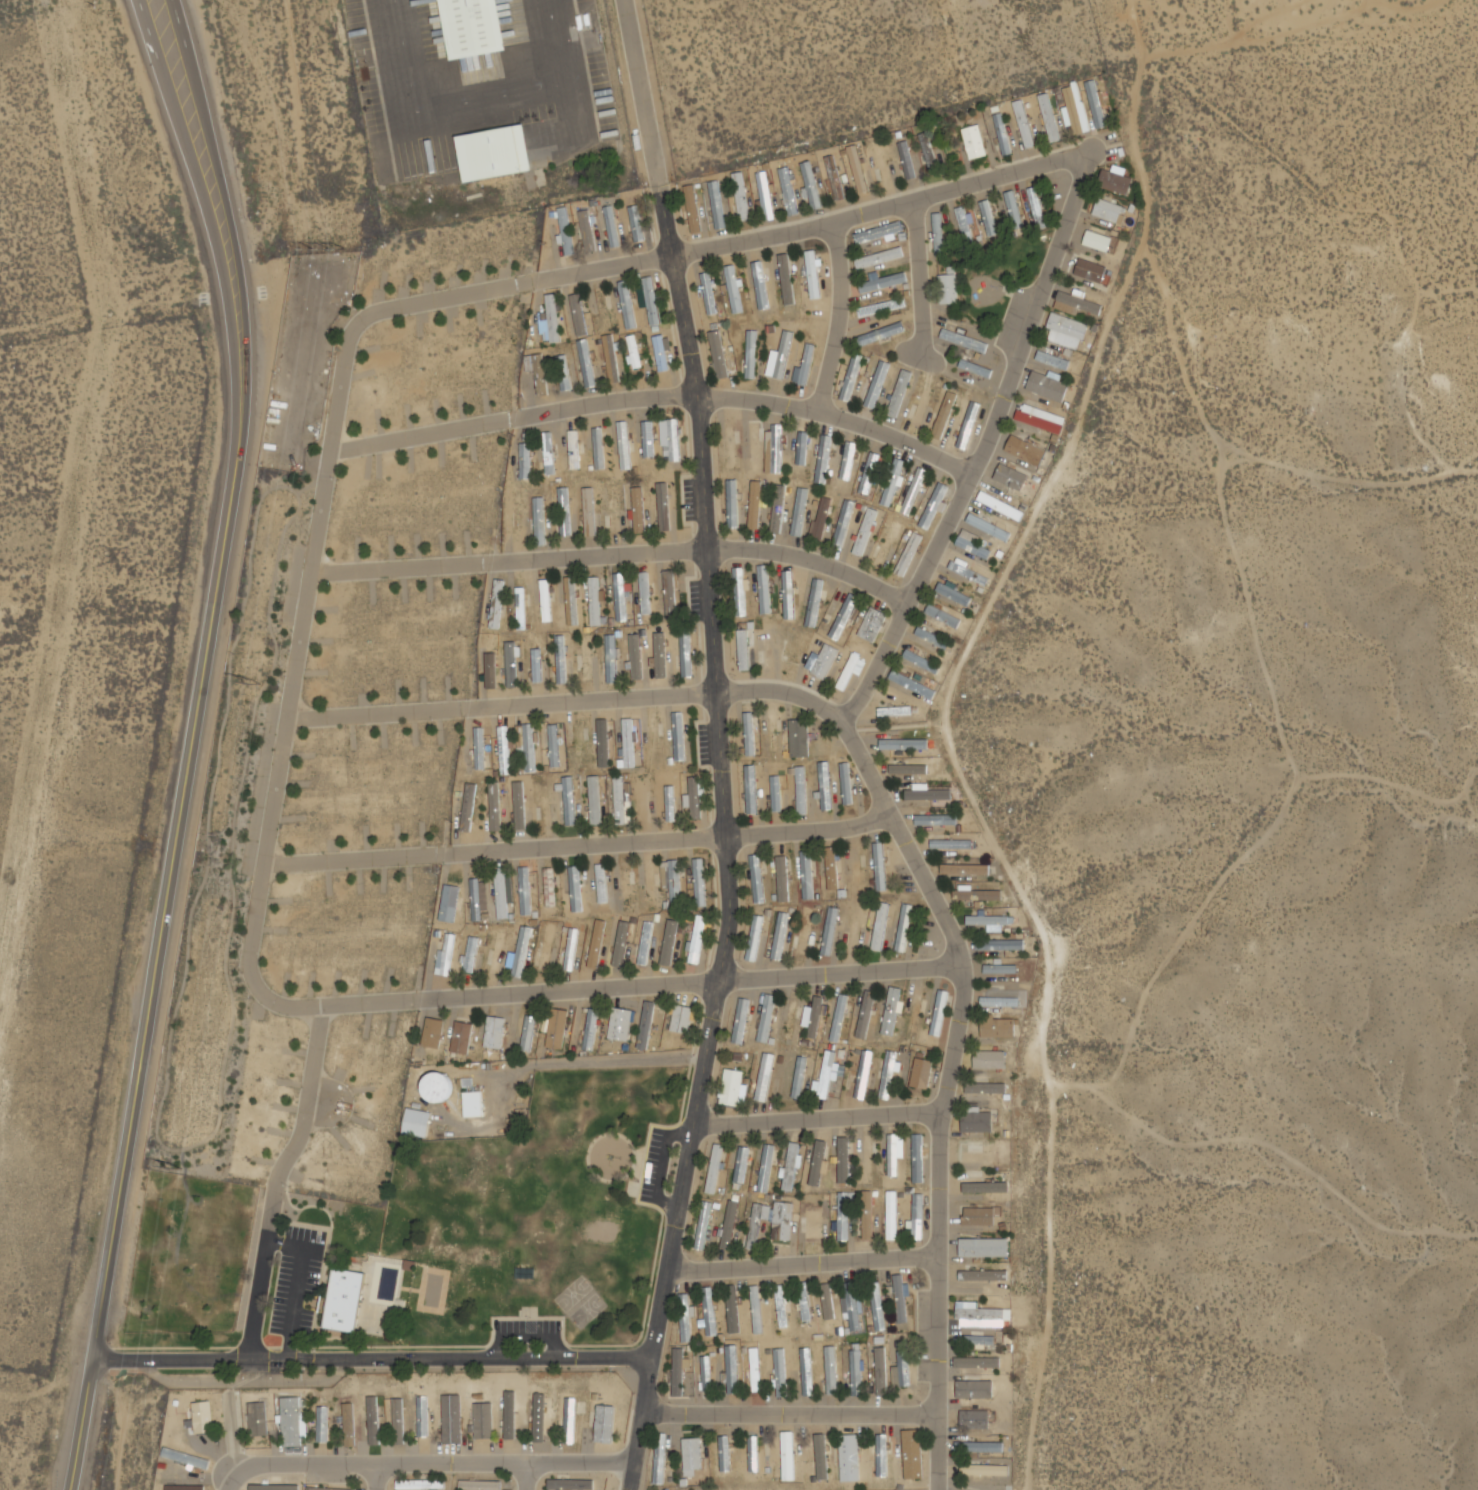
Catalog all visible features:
building: (472, 26)
building: (975, 142)
building: (929, 150)
building: (496, 151)
building: (883, 165)
building: (857, 169)
building: (835, 178)
building: (741, 196)
building: (1035, 201)
building: (693, 209)
road: (212, 219)
road: (230, 221)
building: (637, 221)
building: (965, 221)
building: (589, 226)
building: (566, 231)
building: (879, 232)
building: (1101, 233)
road: (718, 243)
power tower: (326, 246)
building: (813, 274)
road: (922, 281)
building: (760, 285)
building: (733, 289)
building: (948, 289)
building: (709, 293)
building: (652, 303)
building: (881, 308)
building: (579, 315)
road: (843, 317)
building: (1070, 323)
building: (880, 334)
building: (634, 352)
building: (661, 353)
building: (718, 354)
building: (751, 354)
building: (806, 364)
building: (852, 377)
building: (900, 392)
road: (654, 395)
building: (1047, 409)
building: (944, 415)
building: (968, 424)
building: (674, 440)
building: (624, 445)
building: (731, 447)
road: (988, 447)
building: (780, 448)
building: (802, 448)
building: (526, 468)
building: (893, 482)
building: (732, 504)
building: (662, 505)
building: (612, 510)
building: (564, 511)
building: (822, 517)
building: (990, 528)
building: (887, 542)
road: (614, 554)
building: (970, 573)
building: (739, 591)
building: (670, 594)
building: (954, 595)
building: (620, 596)
building: (595, 601)
building: (521, 609)
building: (873, 624)
building: (933, 639)
building: (743, 650)
road: (295, 653)
building: (685, 653)
building: (586, 658)
building: (611, 658)
building: (561, 659)
building: (925, 663)
building: (511, 664)
building: (847, 673)
power tower: (256, 681)
road: (570, 700)
building: (896, 711)
building: (749, 734)
building: (679, 737)
building: (800, 739)
building: (630, 743)
building: (897, 743)
building: (580, 745)
road: (726, 745)
building: (554, 746)
building: (530, 748)
building: (505, 750)
building: (908, 769)
building: (825, 786)
building: (751, 789)
building: (929, 795)
building: (667, 798)
building: (696, 798)
building: (595, 800)
building: (620, 800)
building: (569, 801)
building: (495, 807)
building: (937, 820)
road: (581, 845)
building: (955, 845)
building: (880, 865)
building: (831, 868)
building: (966, 870)
building: (807, 875)
building: (757, 878)
building: (673, 882)
building: (699, 882)
building: (602, 888)
building: (525, 891)
building: (453, 894)
building: (501, 894)
building: (978, 895)
building: (988, 921)
building: (880, 927)
building: (804, 931)
building: (829, 931)
building: (903, 931)
building: (754, 937)
building: (697, 940)
building: (449, 947)
building: (549, 948)
building: (498, 953)
road: (157, 969)
road: (843, 970)
road: (486, 994)
building: (939, 1013)
building: (815, 1018)
building: (839, 1018)
building: (681, 1021)
building: (790, 1021)
building: (741, 1022)
building: (620, 1025)
building: (526, 1032)
building: (991, 1061)
building: (921, 1074)
building: (767, 1078)
building: (799, 1078)
building: (731, 1088)
building: (435, 1089)
storage tank: (435, 1089)
road: (947, 1090)
building: (422, 1113)
road: (822, 1117)
building: (918, 1159)
building: (867, 1160)
building: (817, 1163)
building: (844, 1163)
building: (741, 1164)
power tower: (178, 1166)
building: (792, 1167)
building: (766, 1168)
building: (715, 1169)
road: (273, 1181)
building: (983, 1186)
building: (867, 1216)
building: (844, 1217)
building: (917, 1217)
building: (729, 1224)
building: (813, 1224)
building: (703, 1225)
building: (754, 1226)
park: (497, 1229)
building: (985, 1246)
road: (809, 1262)
building: (900, 1298)
building: (341, 1300)
park: (582, 1303)
building: (852, 1305)
building: (877, 1306)
building: (780, 1308)
building: (733, 1309)
building: (709, 1310)
building: (981, 1313)
building: (684, 1317)
road: (377, 1360)
building: (980, 1362)
building: (707, 1368)
building: (756, 1368)
building: (806, 1368)
building: (902, 1368)
building: (880, 1370)
building: (678, 1371)
building: (980, 1385)
building: (294, 1408)
building: (425, 1408)
building: (456, 1410)
road: (796, 1412)
building: (325, 1416)
building: (542, 1416)
building: (980, 1419)
building: (570, 1420)
building: (601, 1423)
building: (980, 1447)
building: (786, 1449)
building: (692, 1455)
building: (849, 1457)
building: (912, 1457)
road: (437, 1463)
building: (986, 1469)
road: (377, 1476)
road: (524, 1476)
building: (429, 1479)
road: (231, 1480)
building: (570, 1484)
building: (421, 1485)
building: (479, 1485)
building: (331, 1489)

